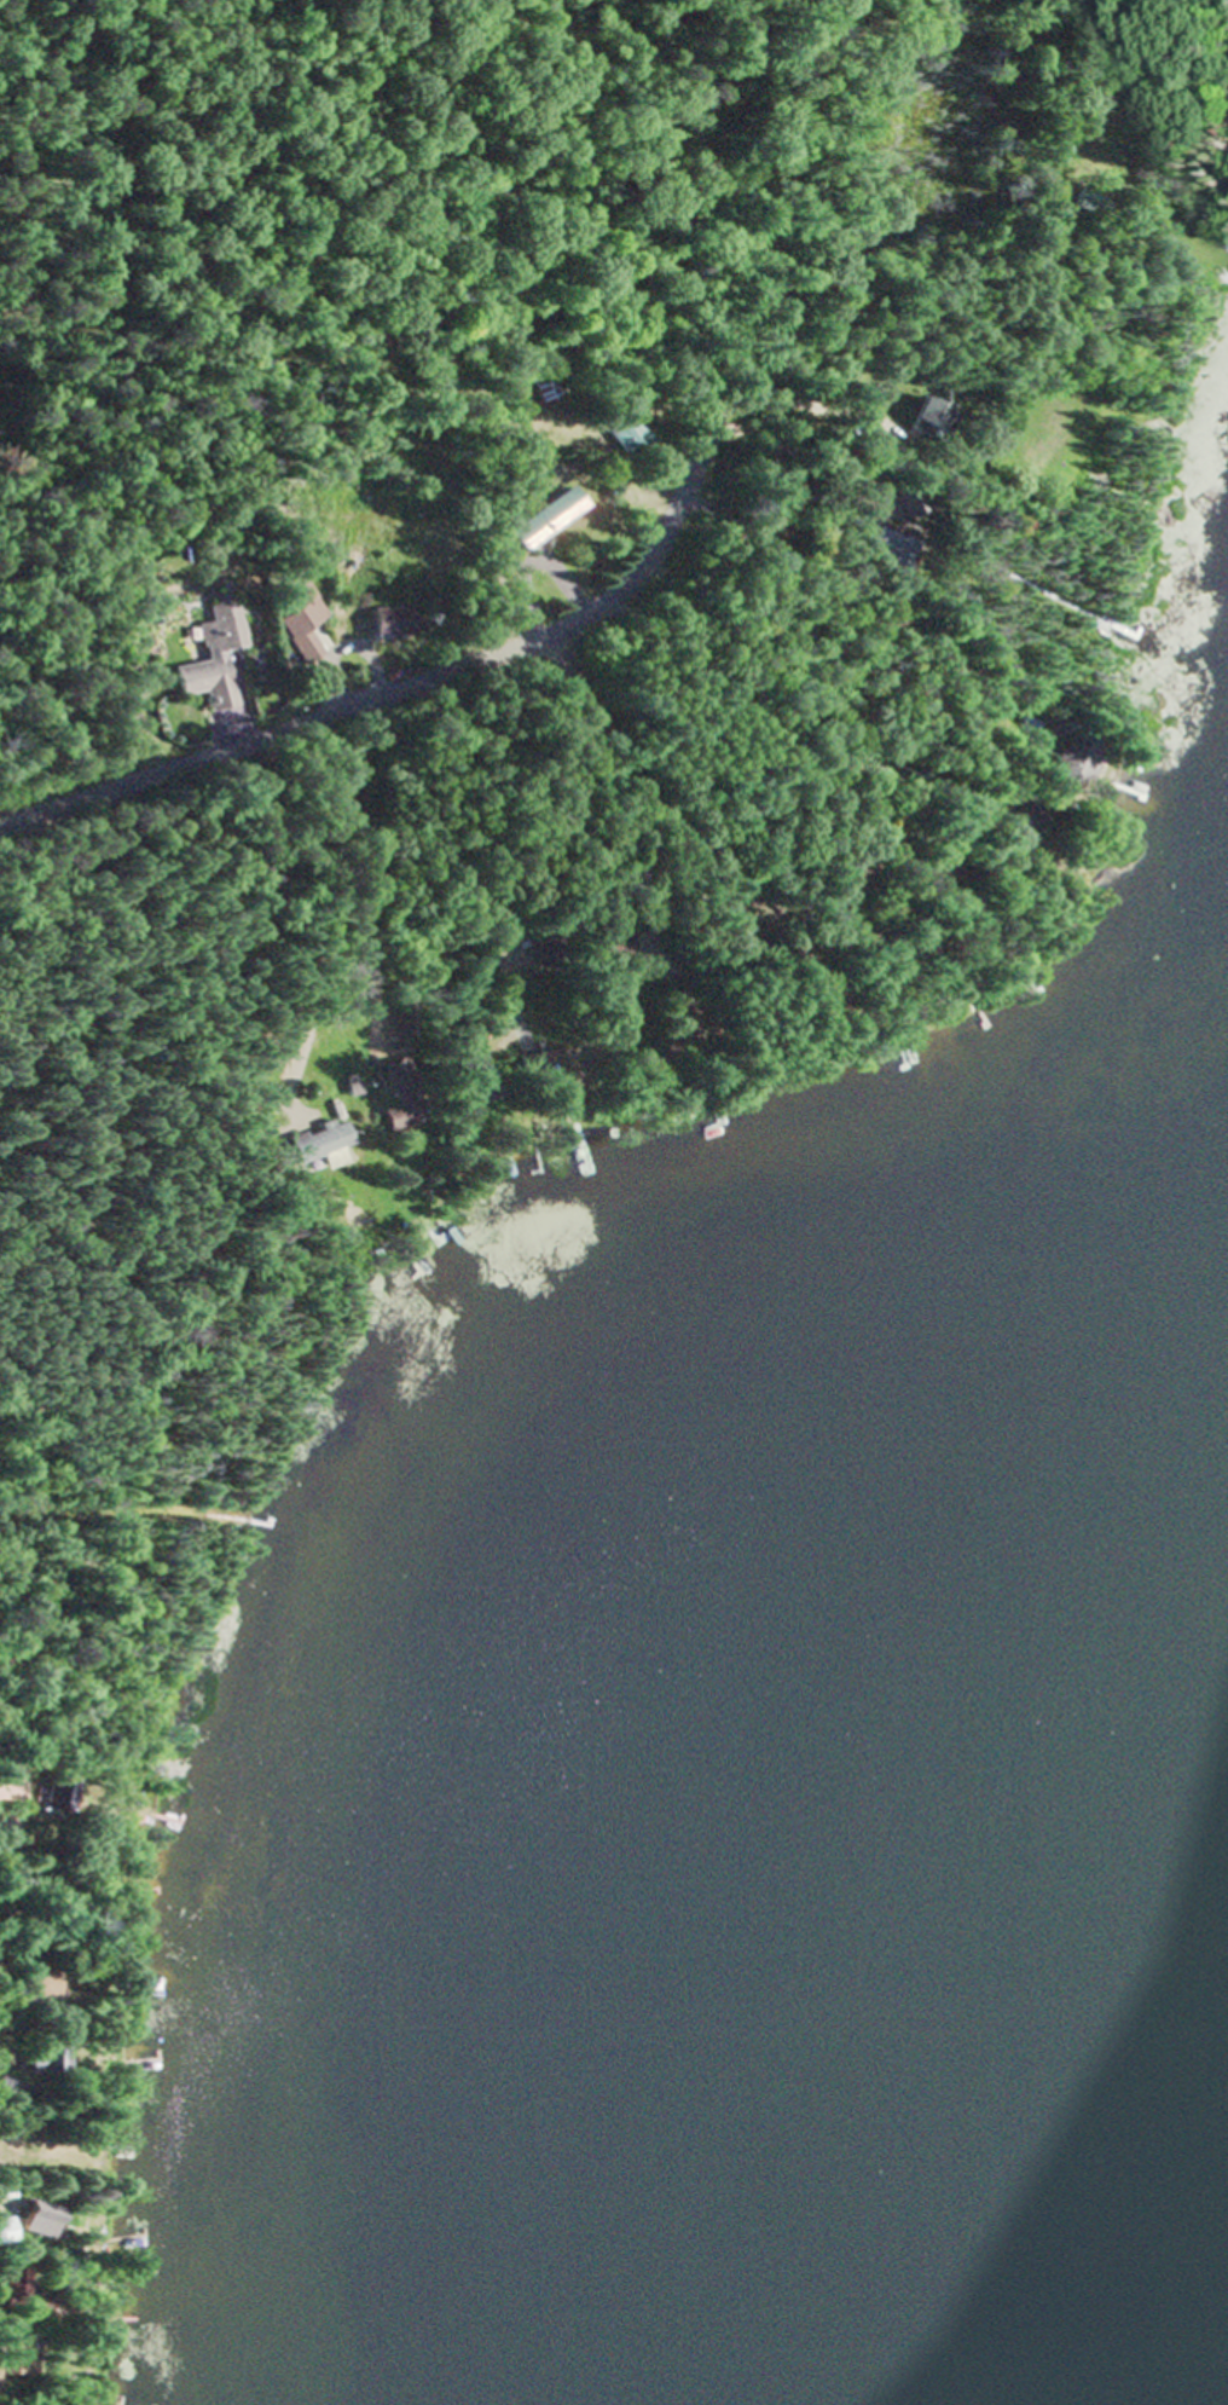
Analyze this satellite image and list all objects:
building: (1058, 151)
park: (60, 181)
building: (548, 386)
building: (928, 417)
building: (627, 434)
building: (875, 439)
building: (551, 521)
building: (888, 542)
building: (394, 624)
building: (303, 638)
road: (490, 658)
building: (220, 660)
building: (1077, 763)
building: (1027, 828)
building: (537, 1065)
building: (474, 1086)
building: (402, 1100)
building: (322, 1146)
building: (57, 1798)
building: (37, 1985)
building: (12, 2091)
building: (42, 2219)
building: (6, 2231)
building: (16, 2285)
building: (16, 2358)

